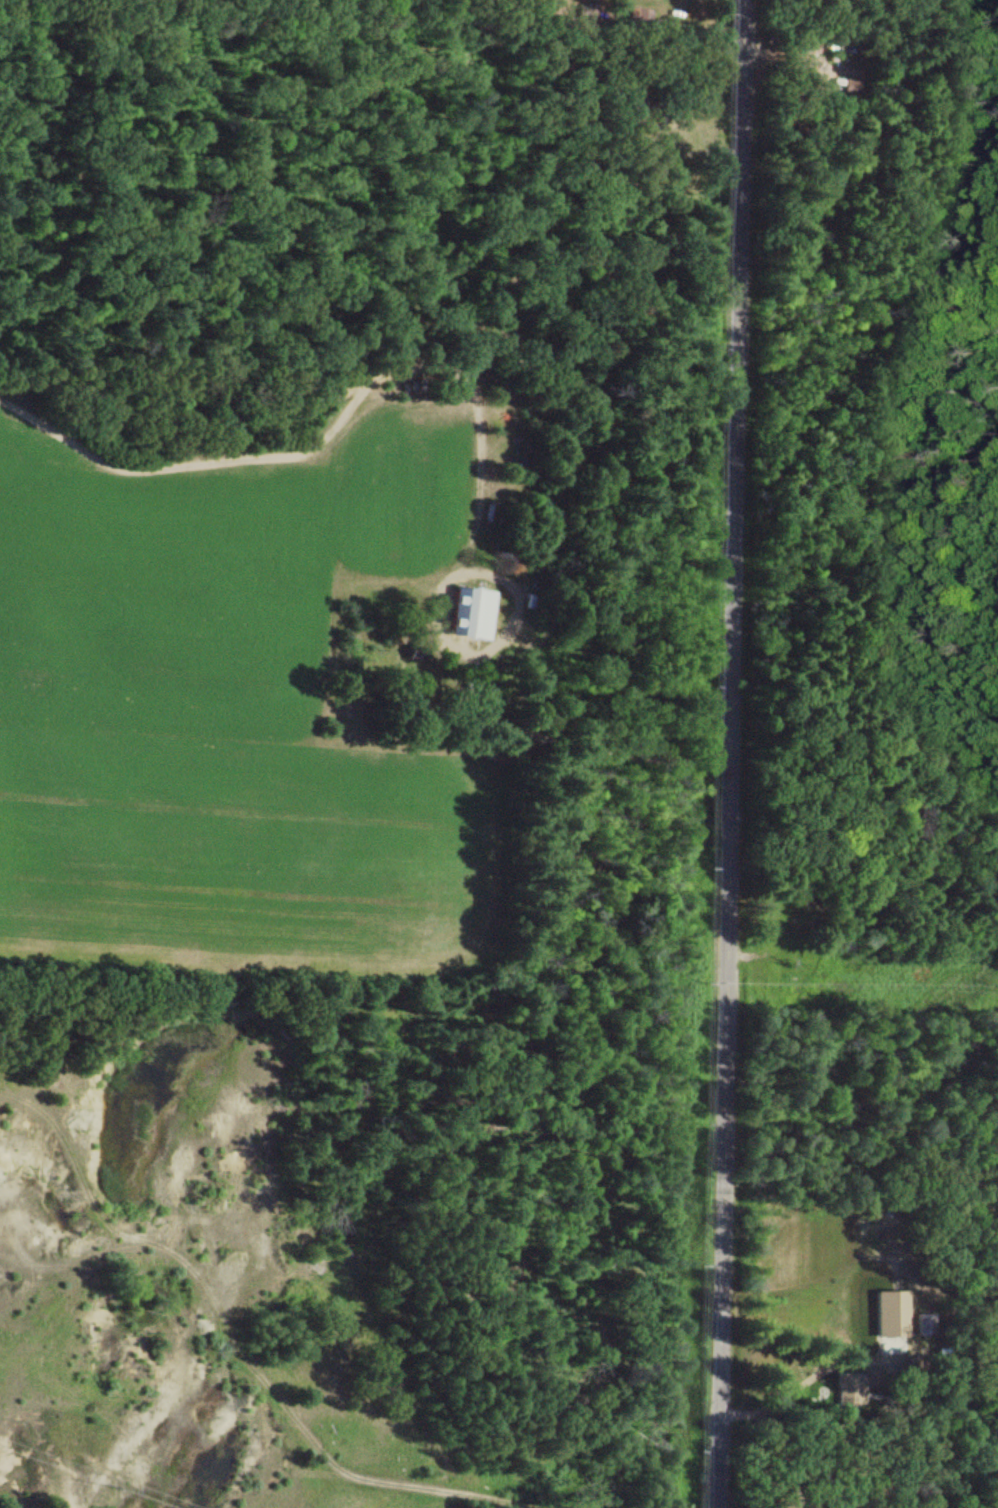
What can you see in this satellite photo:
road: (723, 753)
quarry: (155, 1267)
building: (850, 1389)
road: (447, 1491)

